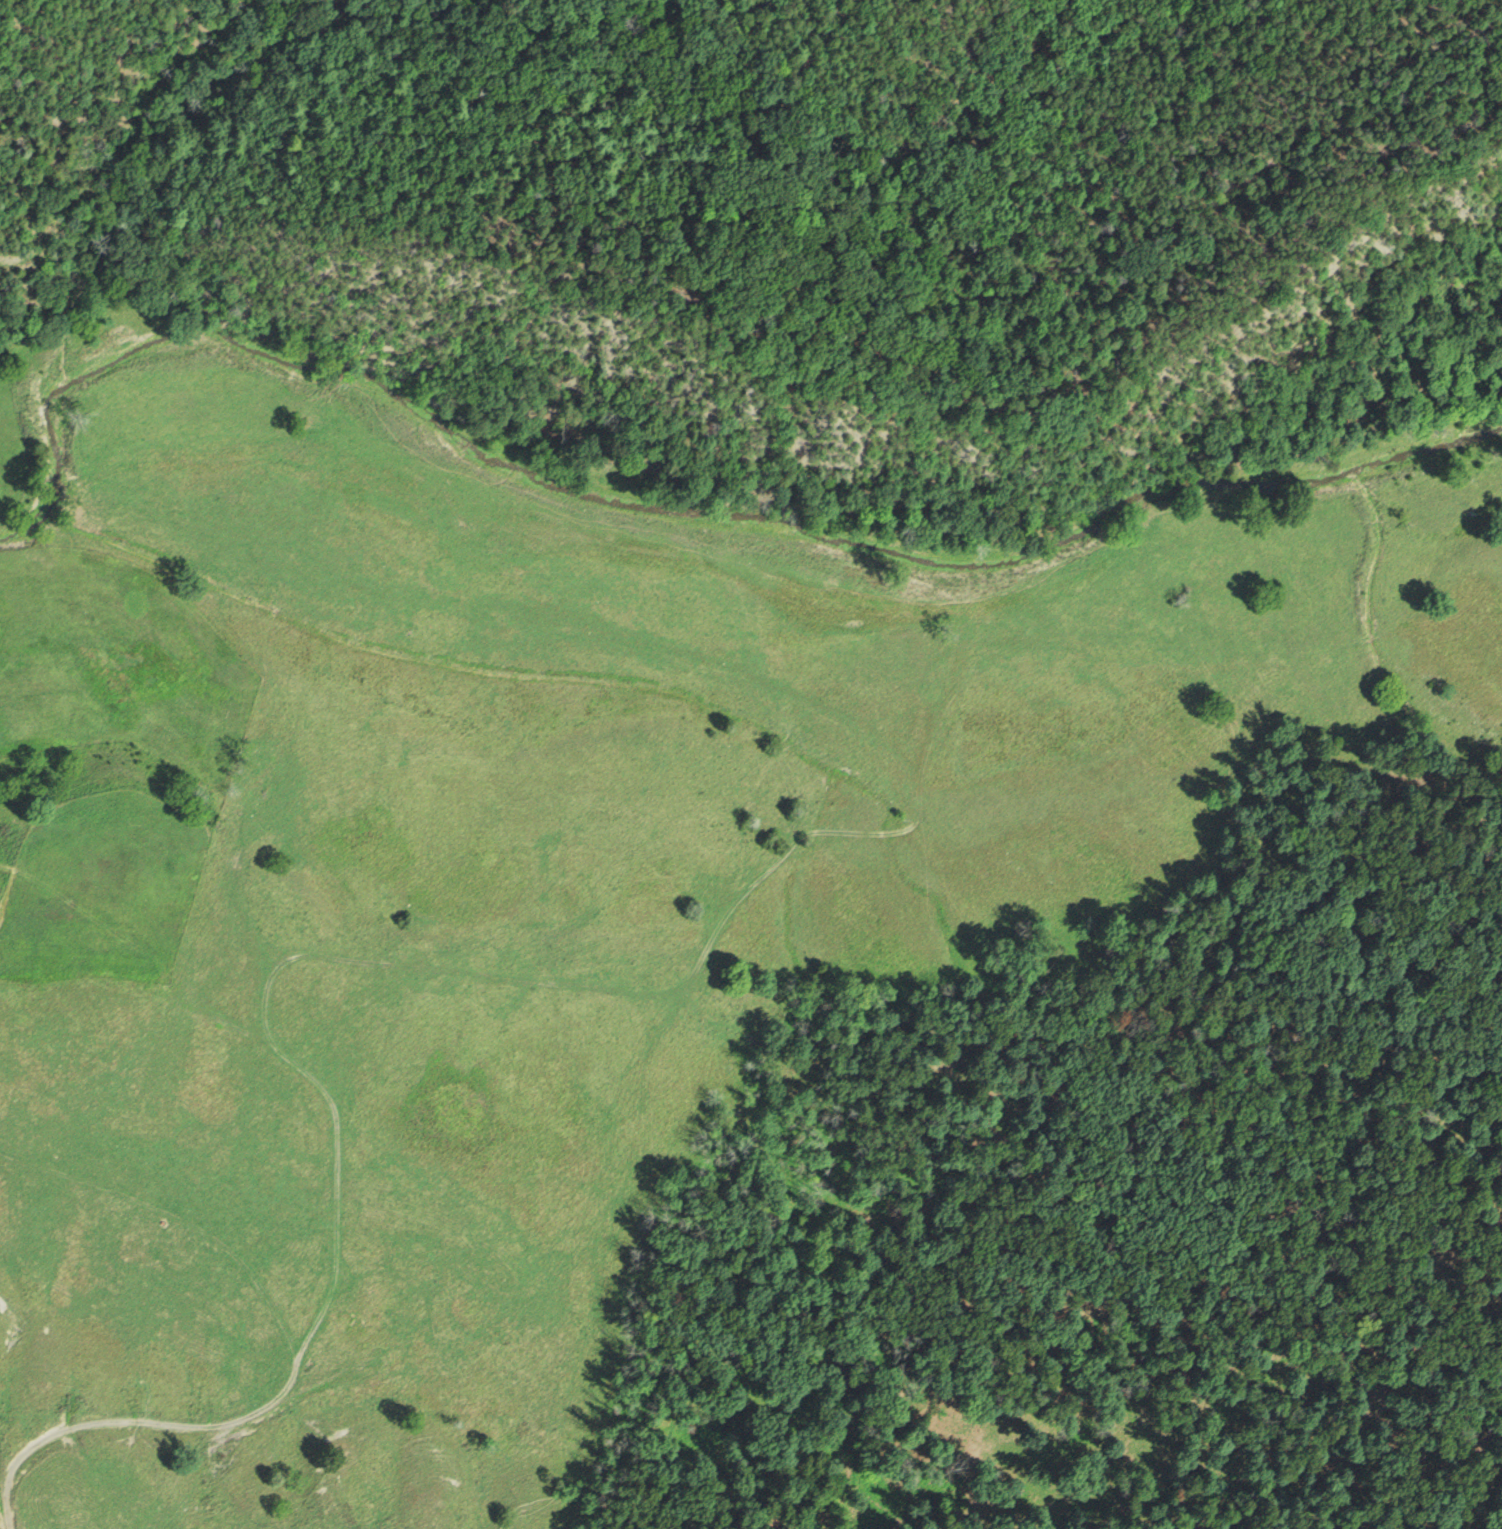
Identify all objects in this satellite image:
road: (599, 990)

